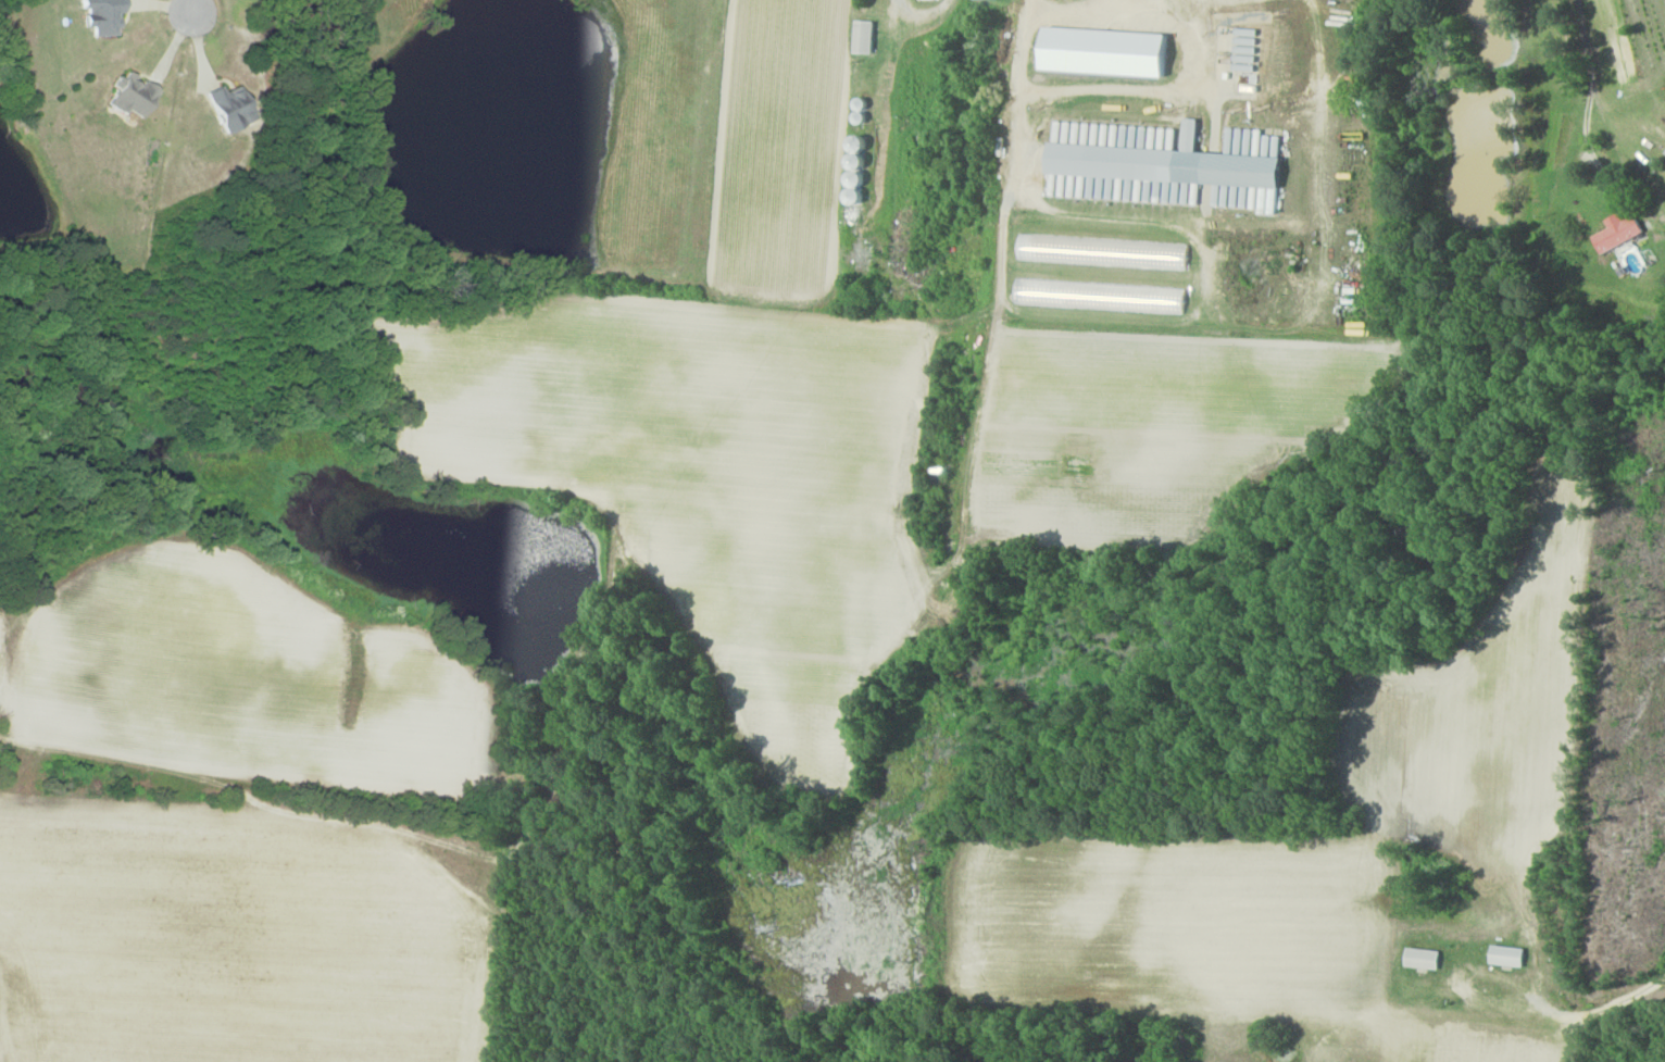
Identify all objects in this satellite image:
road: (190, 8)
road: (1064, 12)
building: (101, 16)
building: (864, 37)
building: (1106, 52)
building: (132, 96)
building: (230, 108)
road: (1589, 108)
building: (1166, 163)
building: (1620, 233)
building: (1104, 251)
building: (1102, 296)
road: (318, 821)
building: (1511, 955)
building: (1426, 959)
road: (1626, 1010)

